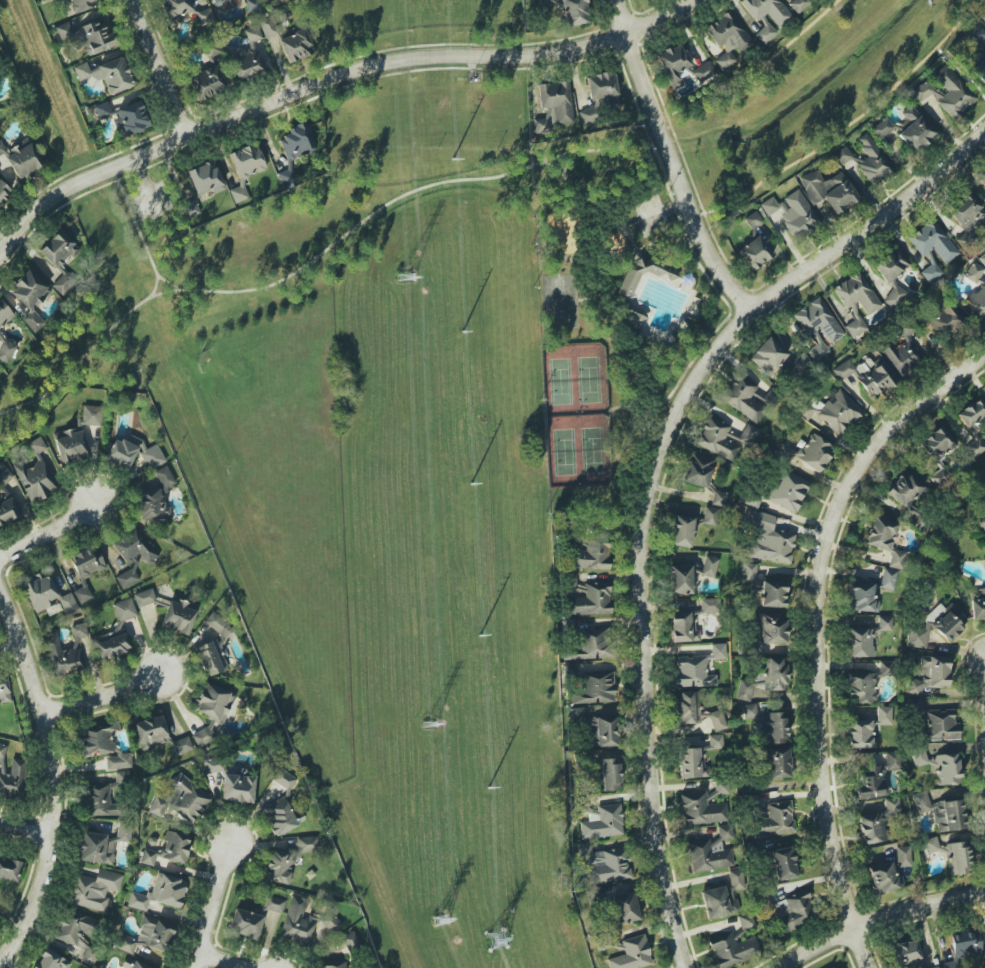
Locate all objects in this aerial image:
building: (218, 1)
building: (545, 2)
building: (81, 5)
building: (798, 5)
building: (252, 6)
building: (176, 8)
building: (767, 10)
building: (575, 12)
building: (205, 16)
building: (267, 27)
building: (764, 33)
building: (87, 36)
building: (726, 38)
building: (295, 45)
building: (977, 53)
building: (248, 56)
building: (674, 65)
road: (162, 67)
building: (705, 73)
road: (753, 74)
building: (107, 75)
road: (960, 76)
road: (329, 77)
building: (206, 83)
building: (945, 91)
building: (599, 95)
building: (553, 106)
building: (132, 118)
road: (850, 124)
building: (882, 128)
building: (916, 134)
building: (297, 142)
building: (2, 148)
building: (842, 155)
building: (24, 159)
building: (872, 160)
road: (670, 161)
road: (565, 163)
building: (245, 168)
building: (285, 176)
building: (205, 178)
building: (982, 180)
building: (828, 190)
building: (4, 192)
road: (638, 192)
road: (395, 199)
road: (674, 206)
building: (190, 209)
building: (793, 214)
parking lot: (649, 217)
building: (966, 217)
building: (753, 220)
road: (616, 225)
road: (628, 226)
building: (933, 248)
building: (754, 253)
road: (596, 257)
building: (60, 259)
building: (982, 259)
building: (891, 273)
power tower: (404, 278)
building: (630, 279)
road: (164, 282)
building: (976, 289)
building: (29, 297)
park: (559, 300)
building: (856, 302)
road: (125, 311)
building: (4, 314)
park: (610, 314)
building: (635, 317)
building: (944, 320)
building: (818, 321)
building: (6, 351)
building: (817, 351)
building: (900, 355)
building: (767, 356)
building: (867, 376)
building: (743, 398)
park: (249, 411)
building: (839, 412)
park: (575, 413)
building: (91, 415)
building: (973, 425)
building: (724, 438)
building: (937, 444)
building: (70, 446)
building: (133, 453)
building: (806, 455)
building: (697, 471)
building: (35, 475)
building: (164, 477)
building: (940, 477)
road: (653, 480)
building: (905, 489)
building: (788, 492)
building: (6, 498)
building: (718, 498)
building: (151, 505)
building: (981, 521)
building: (690, 527)
road: (48, 530)
building: (767, 538)
building: (885, 541)
building: (132, 554)
building: (592, 556)
building: (709, 566)
building: (86, 570)
building: (748, 571)
building: (888, 579)
building: (680, 580)
building: (572, 583)
building: (773, 594)
building: (144, 597)
road: (1, 598)
building: (862, 598)
building: (591, 600)
building: (977, 604)
building: (954, 613)
building: (179, 616)
building: (688, 622)
building: (773, 627)
building: (116, 631)
road: (817, 631)
building: (865, 638)
road: (9, 643)
building: (590, 645)
building: (213, 648)
building: (62, 657)
building: (884, 668)
building: (697, 669)
building: (930, 674)
building: (765, 679)
building: (861, 687)
building: (595, 688)
building: (3, 689)
road: (104, 695)
building: (913, 706)
building: (211, 712)
building: (697, 712)
building: (750, 713)
building: (884, 715)
power tower: (428, 725)
building: (940, 726)
building: (597, 728)
building: (773, 728)
building: (859, 734)
building: (157, 736)
building: (102, 747)
building: (2, 751)
building: (918, 756)
building: (697, 758)
building: (778, 763)
building: (213, 765)
building: (946, 769)
building: (607, 775)
building: (876, 778)
building: (13, 779)
road: (55, 781)
building: (237, 788)
building: (180, 800)
building: (99, 801)
building: (280, 808)
building: (700, 809)
building: (941, 812)
building: (599, 820)
building: (872, 828)
road: (26, 830)
building: (123, 834)
building: (930, 845)
building: (95, 848)
building: (168, 849)
building: (710, 852)
building: (957, 858)
building: (287, 859)
building: (783, 863)
building: (608, 865)
building: (9, 869)
building: (889, 872)
building: (93, 889)
building: (160, 893)
building: (723, 896)
building: (273, 904)
road: (211, 908)
building: (625, 908)
building: (788, 910)
road: (884, 918)
building: (745, 921)
building: (297, 922)
building: (329, 922)
power tower: (439, 922)
building: (245, 924)
building: (72, 928)
building: (148, 935)
building: (351, 940)
power tower: (497, 940)
building: (963, 946)
building: (733, 950)
building: (632, 954)
building: (906, 954)
building: (89, 955)
building: (51, 960)
road: (216, 962)
building: (137, 965)
building: (334, 966)
building: (834, 967)
building: (934, 967)

